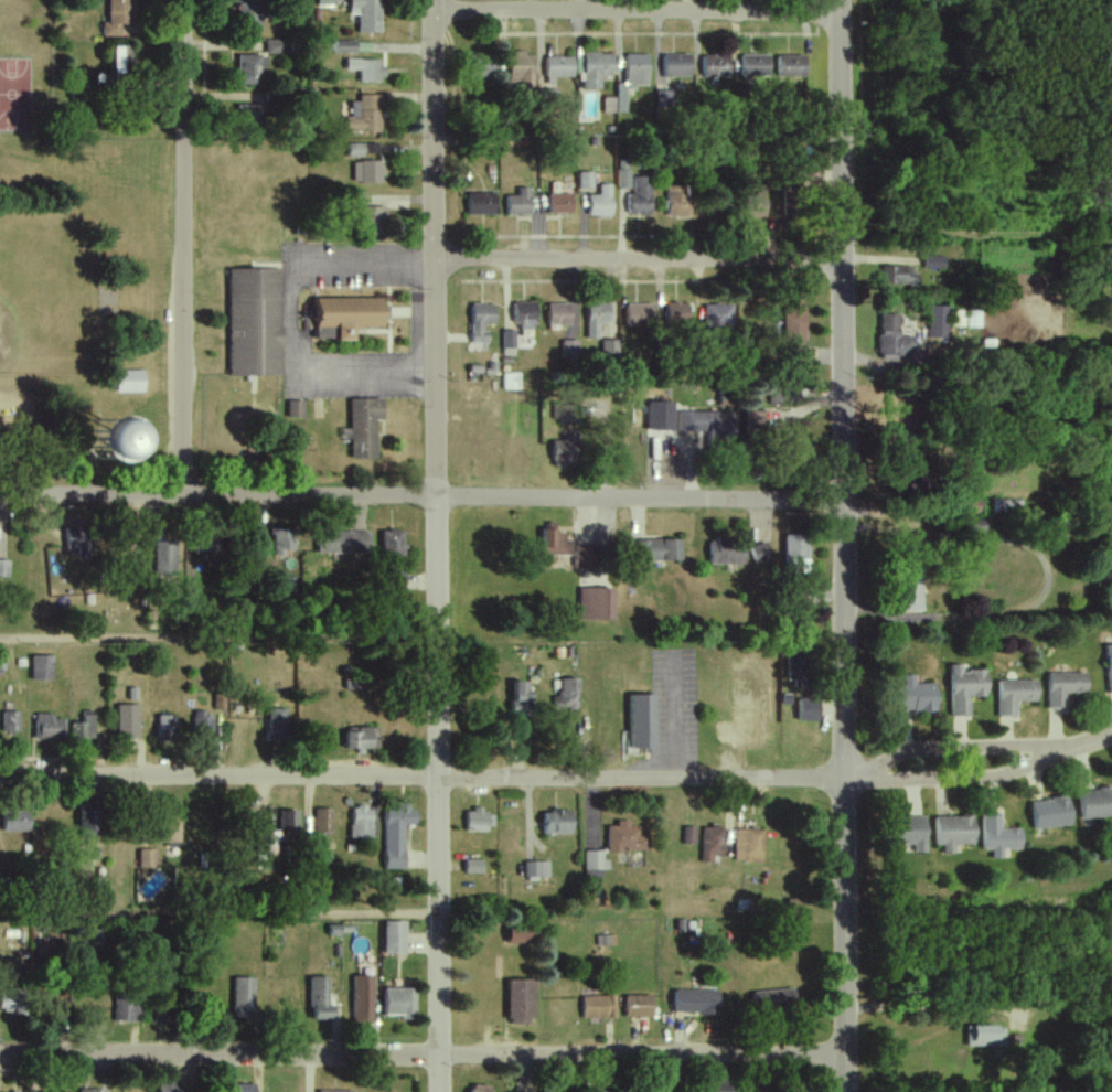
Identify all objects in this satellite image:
road: (637, 10)
building: (366, 14)
building: (118, 17)
building: (250, 17)
building: (271, 46)
building: (343, 46)
building: (120, 60)
building: (676, 65)
building: (756, 65)
building: (792, 65)
building: (716, 66)
building: (559, 67)
building: (481, 68)
building: (249, 69)
building: (366, 69)
building: (522, 69)
building: (597, 69)
building: (629, 82)
park: (18, 94)
building: (547, 95)
building: (664, 101)
building: (246, 116)
building: (365, 116)
building: (362, 149)
building: (366, 171)
building: (623, 174)
building: (586, 180)
building: (640, 195)
building: (678, 200)
building: (792, 200)
building: (518, 202)
building: (601, 202)
building: (481, 203)
building: (560, 203)
building: (374, 220)
road: (182, 247)
road: (639, 260)
building: (934, 263)
building: (897, 275)
park: (78, 283)
park: (46, 295)
building: (675, 312)
building: (523, 314)
building: (558, 314)
building: (639, 314)
building: (717, 314)
building: (347, 315)
building: (596, 318)
building: (973, 319)
building: (255, 321)
road: (295, 321)
building: (481, 321)
building: (937, 322)
building: (794, 323)
building: (894, 339)
building: (609, 346)
building: (568, 352)
building: (131, 381)
building: (510, 381)
building: (777, 394)
building: (296, 409)
building: (560, 411)
building: (661, 416)
building: (753, 420)
building: (706, 422)
building: (364, 427)
building: (125, 436)
water tower: (101, 440)
building: (564, 452)
road: (420, 494)
building: (75, 537)
building: (280, 542)
building: (343, 543)
building: (555, 544)
building: (393, 545)
road: (843, 545)
road: (436, 546)
building: (659, 550)
building: (727, 552)
building: (760, 554)
building: (795, 554)
building: (205, 555)
building: (163, 558)
building: (589, 558)
building: (3, 568)
building: (396, 578)
building: (911, 597)
building: (597, 603)
road: (217, 635)
building: (42, 667)
building: (1109, 668)
building: (799, 670)
building: (1063, 687)
building: (965, 688)
building: (567, 695)
building: (1014, 695)
building: (916, 696)
building: (521, 697)
building: (217, 703)
building: (809, 709)
road: (671, 715)
building: (10, 721)
building: (126, 721)
building: (642, 721)
building: (201, 724)
building: (275, 725)
building: (49, 727)
building: (84, 727)
building: (164, 727)
building: (360, 738)
road: (420, 775)
road: (981, 778)
building: (1094, 803)
building: (1050, 813)
building: (15, 821)
building: (90, 821)
building: (323, 821)
building: (475, 821)
building: (360, 822)
building: (556, 822)
building: (169, 829)
building: (909, 832)
building: (954, 832)
building: (395, 835)
building: (687, 835)
building: (998, 836)
building: (623, 838)
building: (712, 843)
building: (749, 845)
building: (147, 858)
building: (594, 865)
building: (473, 867)
building: (535, 869)
road: (218, 916)
building: (520, 935)
building: (394, 938)
building: (243, 997)
building: (320, 999)
building: (363, 999)
building: (13, 1000)
building: (773, 1000)
building: (521, 1002)
building: (695, 1002)
building: (399, 1003)
building: (639, 1006)
building: (597, 1007)
building: (126, 1008)
building: (985, 1036)
road: (421, 1054)
building: (169, 1086)
building: (240, 1088)
building: (482, 1088)
building: (767, 1088)
building: (720, 1089)
building: (87, 1090)
building: (336, 1091)

